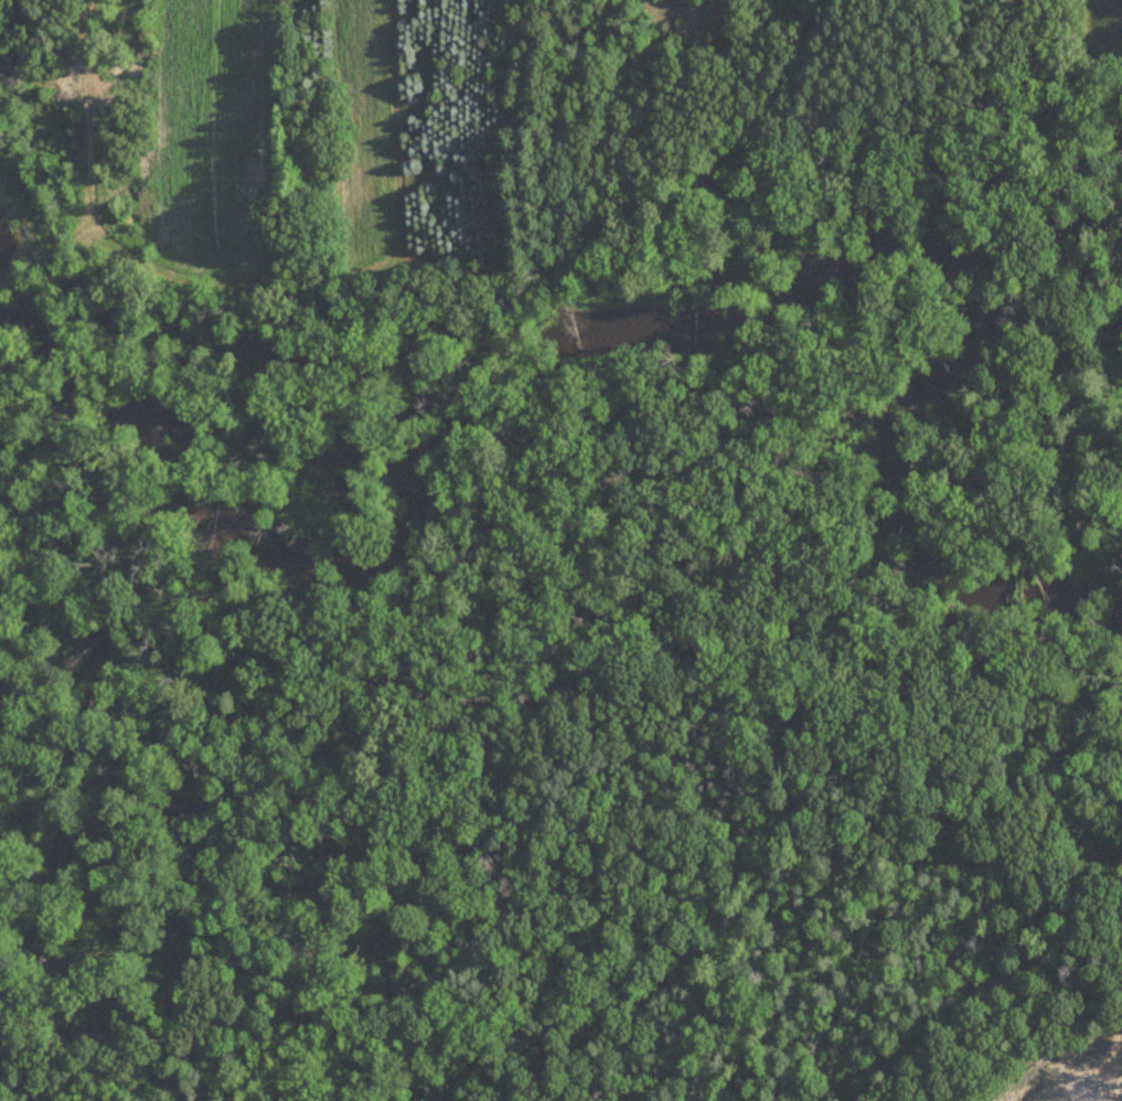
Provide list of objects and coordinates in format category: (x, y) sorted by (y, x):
river: (552, 321)
river: (1098, 611)

